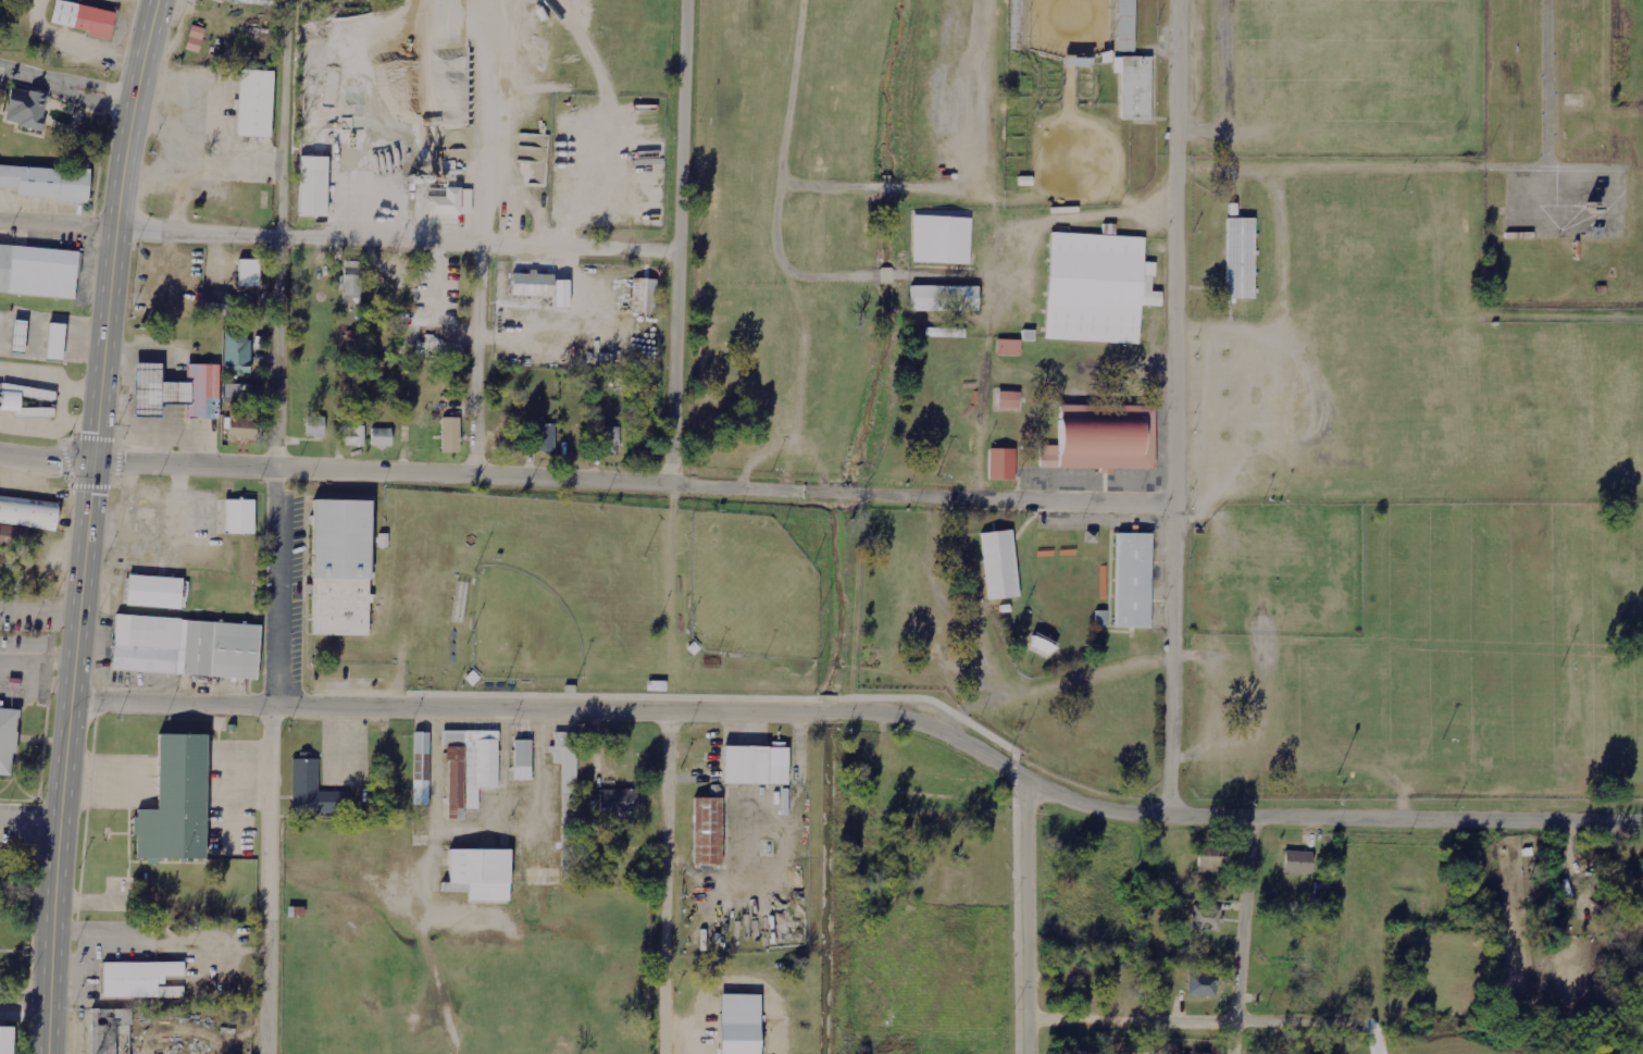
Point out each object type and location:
building: (238, 1)
building: (82, 21)
building: (1018, 23)
building: (1120, 24)
park: (1069, 26)
building: (195, 39)
road: (67, 84)
building: (1133, 88)
building: (254, 106)
building: (25, 109)
building: (46, 184)
building: (313, 188)
building: (451, 203)
road: (59, 223)
road: (482, 236)
road: (397, 238)
building: (939, 238)
road: (677, 240)
building: (1236, 256)
building: (37, 273)
building: (249, 273)
building: (351, 283)
building: (532, 286)
building: (1096, 286)
building: (645, 297)
building: (944, 300)
building: (215, 303)
building: (246, 309)
building: (946, 333)
building: (17, 335)
building: (53, 340)
building: (1009, 348)
building: (236, 352)
road: (50, 379)
park: (1180, 383)
building: (238, 390)
building: (175, 393)
building: (1006, 402)
building: (26, 404)
road: (1178, 408)
building: (239, 425)
building: (315, 426)
building: (450, 434)
building: (356, 435)
building: (381, 437)
building: (544, 437)
building: (612, 439)
building: (1100, 439)
road: (47, 457)
traffic signals: (95, 461)
building: (1001, 463)
road: (635, 481)
building: (238, 519)
building: (24, 522)
road: (88, 524)
road: (276, 526)
building: (998, 566)
building: (340, 569)
building: (1132, 581)
building: (154, 593)
building: (185, 648)
road: (869, 695)
road: (869, 715)
building: (7, 742)
building: (523, 760)
building: (755, 766)
building: (470, 768)
building: (422, 769)
building: (311, 792)
road: (32, 798)
building: (569, 801)
building: (175, 802)
building: (618, 803)
building: (706, 832)
building: (1211, 860)
building: (1298, 861)
building: (482, 873)
road: (671, 880)
building: (536, 891)
building: (1207, 918)
road: (1026, 919)
road: (1242, 934)
building: (136, 979)
building: (1203, 985)
road: (1178, 1022)
building: (739, 1024)
building: (102, 1030)
building: (7, 1041)

